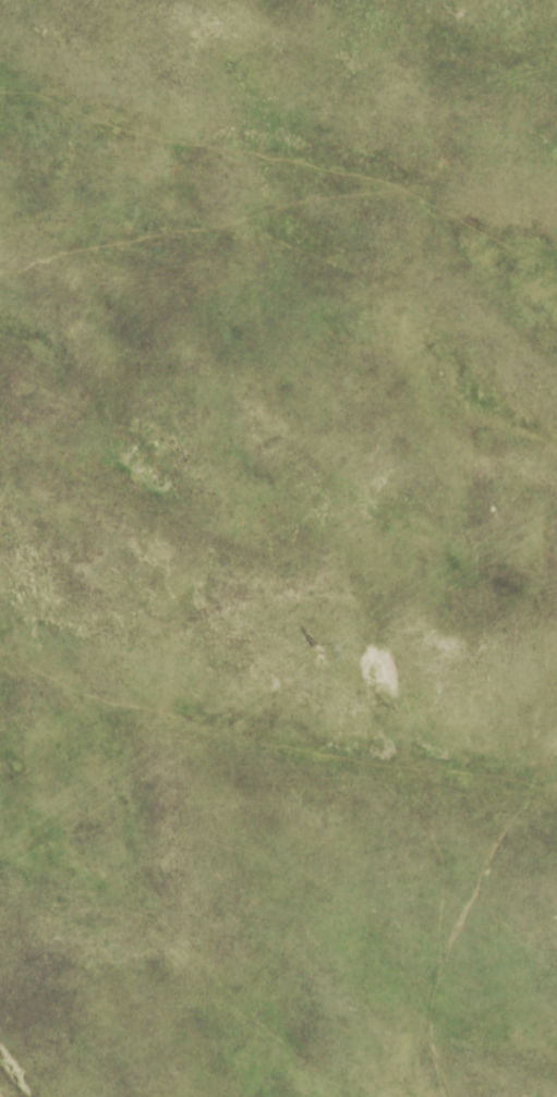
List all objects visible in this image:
power tower: (317, 649)

